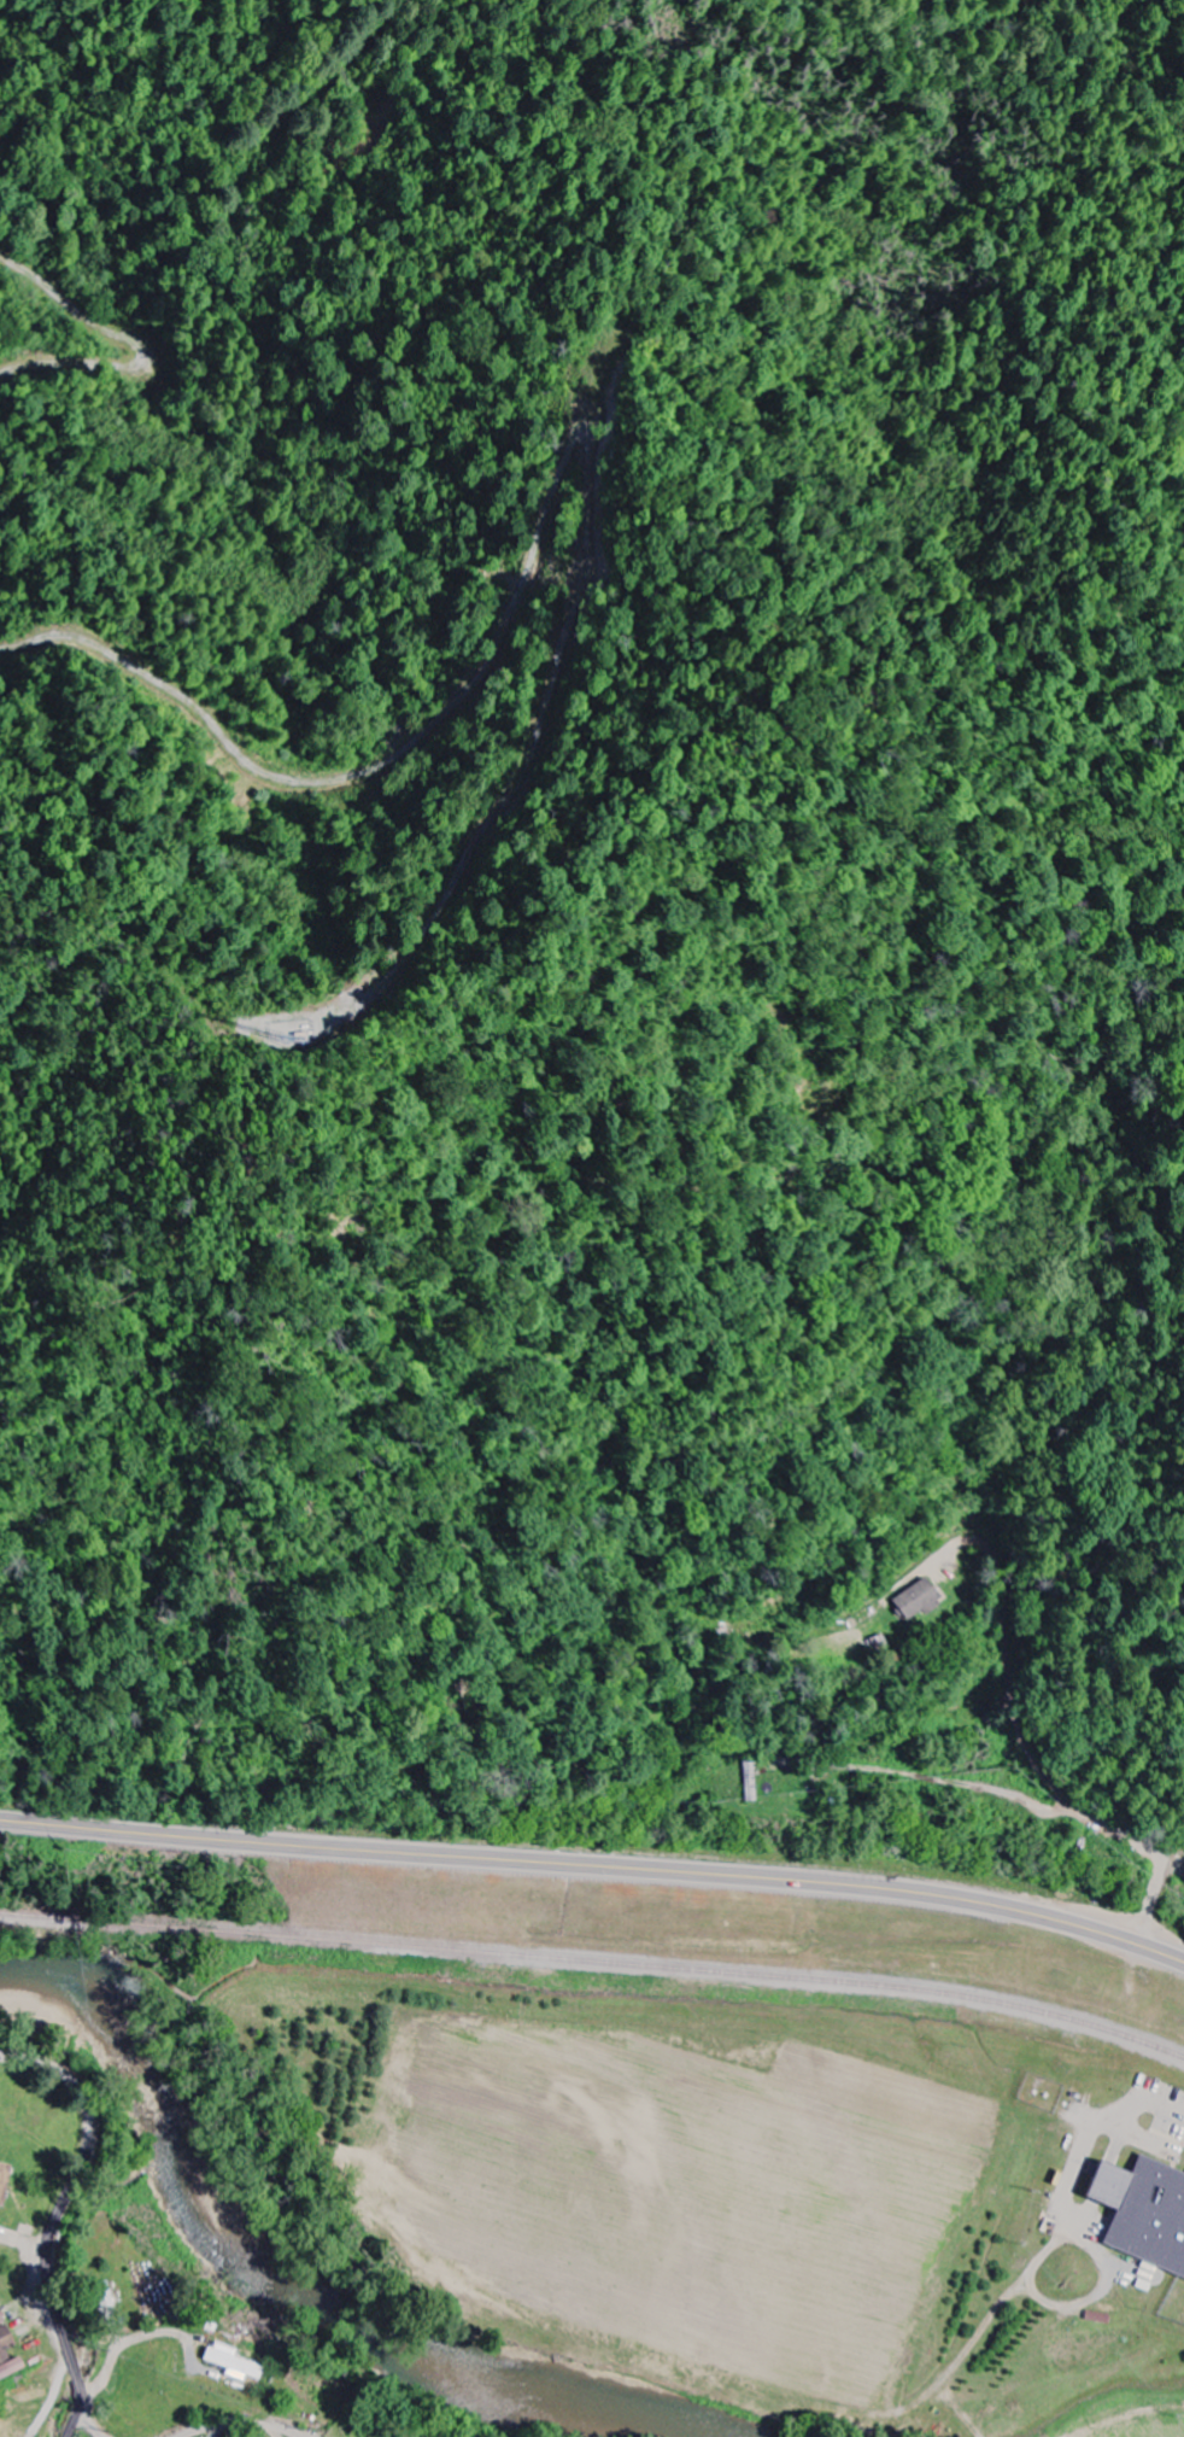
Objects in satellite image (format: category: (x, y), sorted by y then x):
building: (914, 1600)
road: (596, 1865)
road: (1155, 1897)
railway: (598, 1952)
parking lot: (1165, 2104)
road: (1102, 2126)
road: (1108, 2168)
building: (4, 2181)
road: (63, 2205)
building: (1143, 2210)
river: (275, 2287)
building: (104, 2293)
building: (1, 2319)
building: (7, 2354)
building: (231, 2362)
road: (76, 2424)
road: (93, 2425)
road: (242, 2425)
road: (59, 2426)

